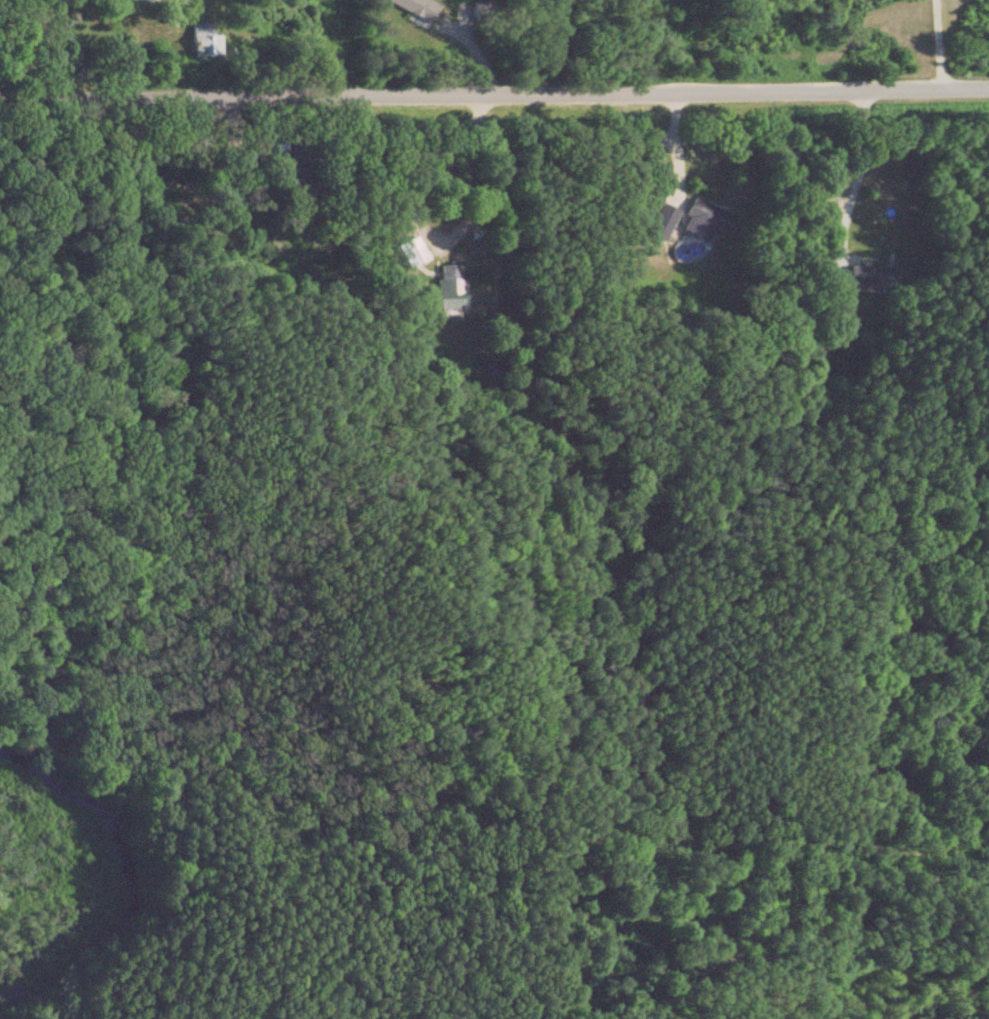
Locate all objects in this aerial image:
building: (408, 7)
road: (23, 11)
building: (192, 40)
road: (941, 42)
road: (494, 91)
road: (667, 141)
road: (850, 162)
building: (693, 220)
building: (657, 223)
road: (441, 237)
building: (406, 253)
building: (444, 288)
building: (836, 296)

